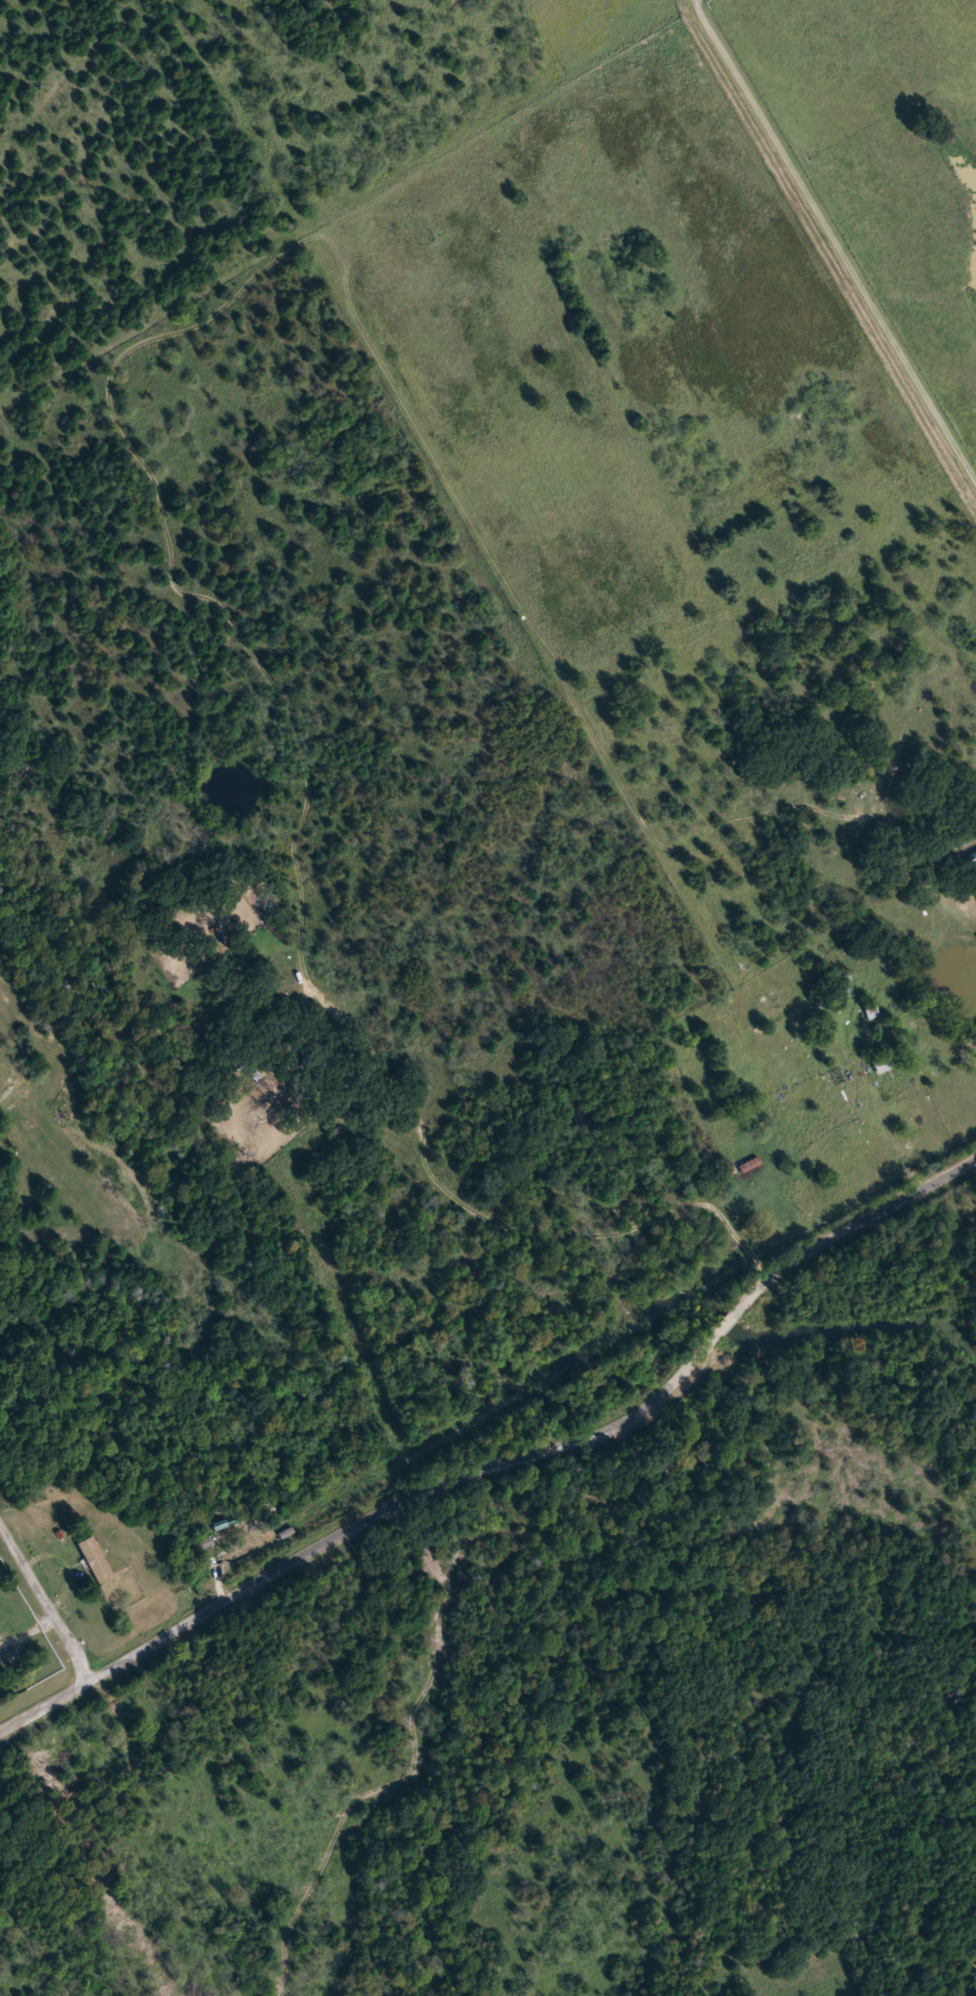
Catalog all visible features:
road: (832, 243)
building: (275, 928)
building: (830, 991)
building: (872, 1010)
building: (887, 1062)
road: (893, 1136)
building: (750, 1166)
road: (505, 1463)
building: (97, 1560)

